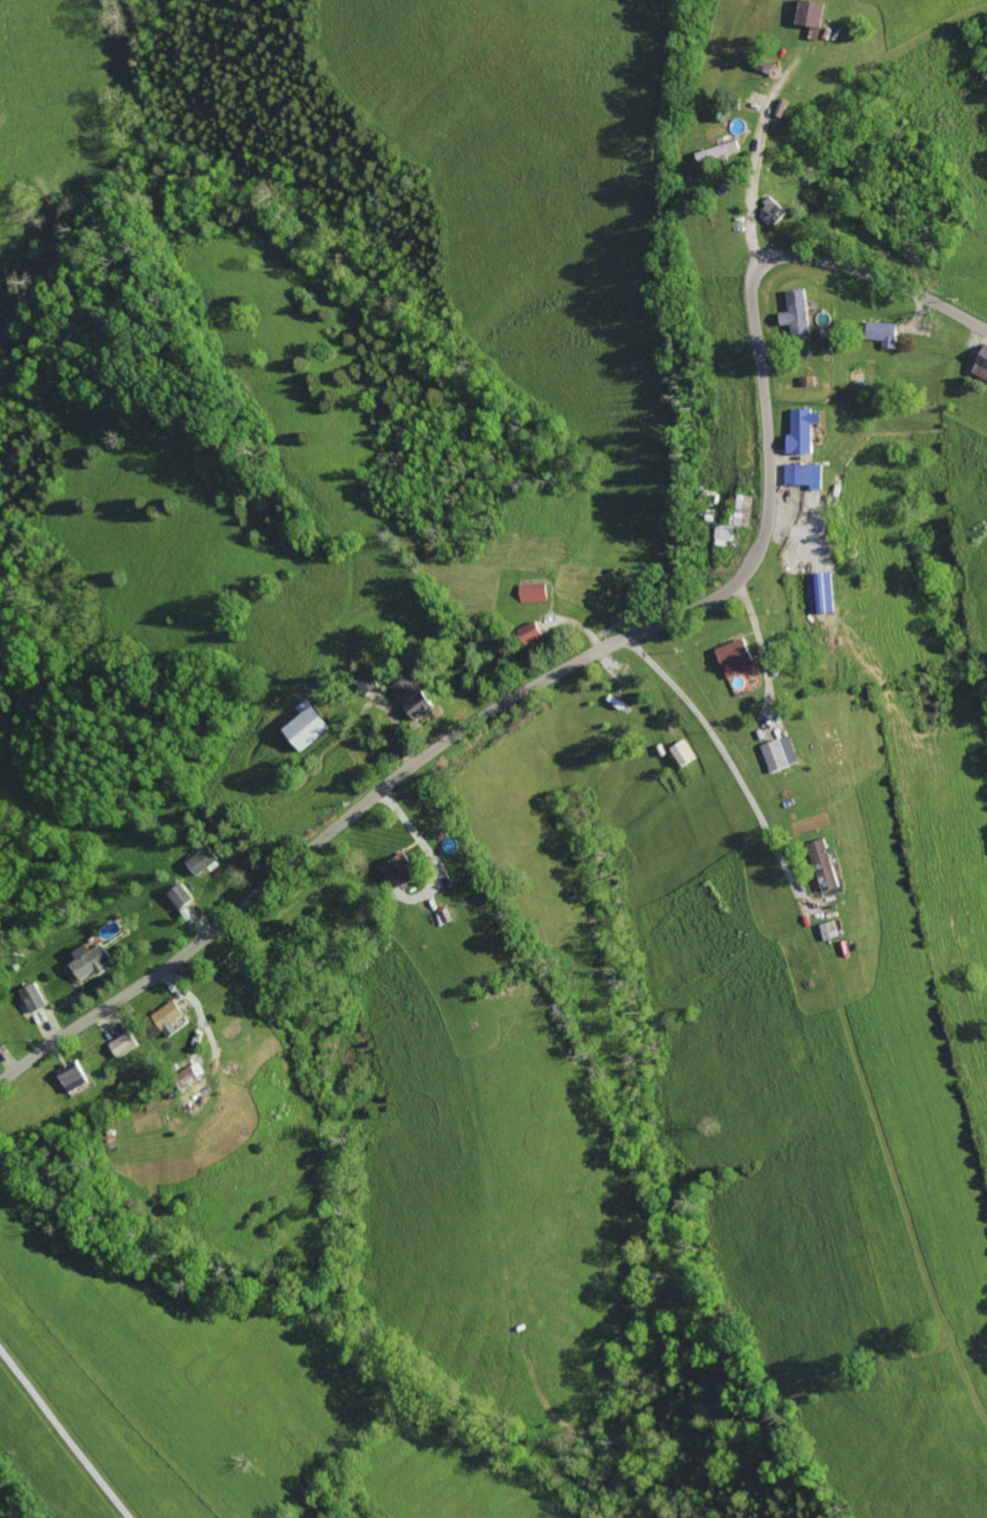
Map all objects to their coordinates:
building: (813, 16)
road: (759, 136)
building: (721, 151)
building: (774, 211)
building: (799, 312)
building: (886, 333)
building: (982, 367)
building: (804, 430)
building: (807, 475)
building: (744, 510)
building: (725, 535)
building: (535, 593)
building: (823, 593)
building: (534, 632)
road: (761, 651)
road: (591, 655)
building: (739, 658)
building: (415, 696)
building: (310, 728)
building: (684, 753)
building: (781, 754)
road: (728, 764)
road: (412, 830)
building: (204, 861)
building: (826, 865)
building: (405, 870)
building: (182, 896)
building: (831, 931)
building: (90, 963)
building: (34, 998)
building: (172, 1016)
building: (123, 1046)
building: (76, 1079)
road: (613, 1166)
road: (64, 1432)

